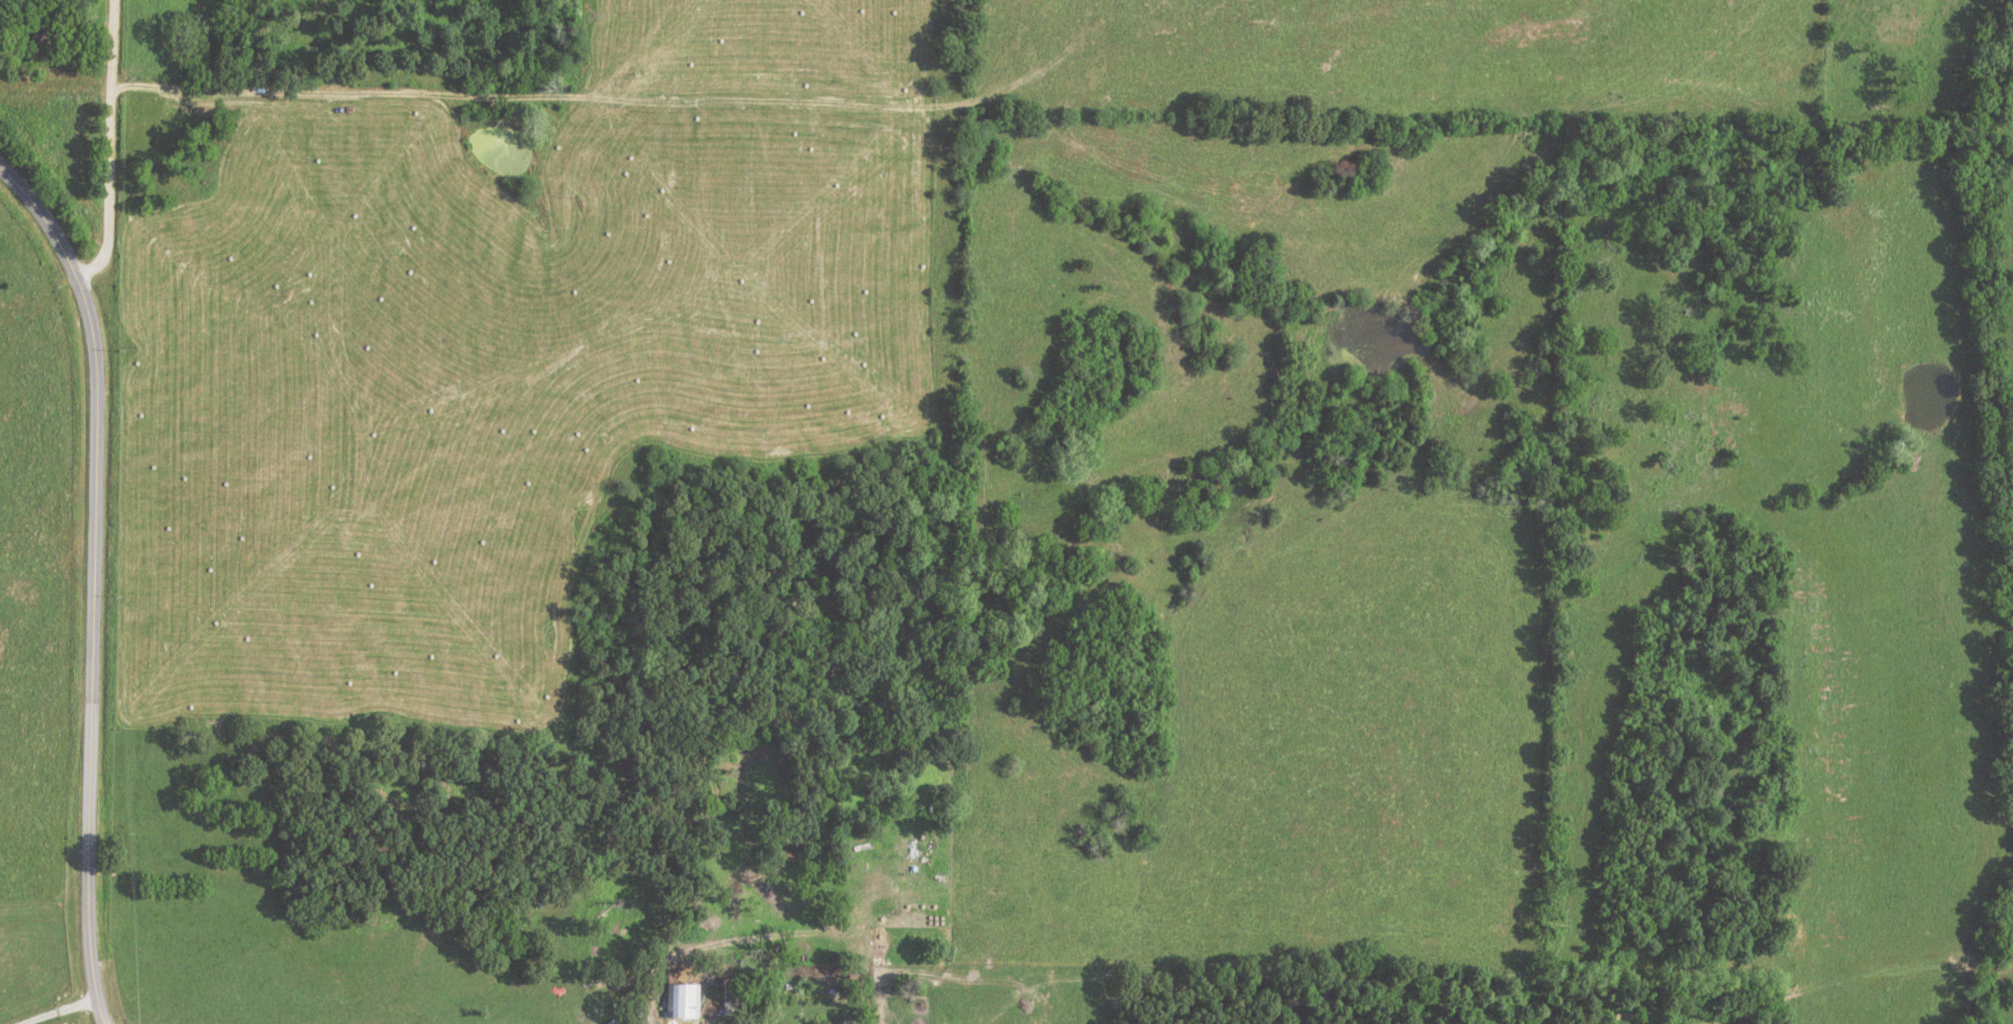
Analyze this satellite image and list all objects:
road: (377, 91)
road: (111, 141)
road: (93, 579)
building: (682, 1001)
road: (56, 1011)

